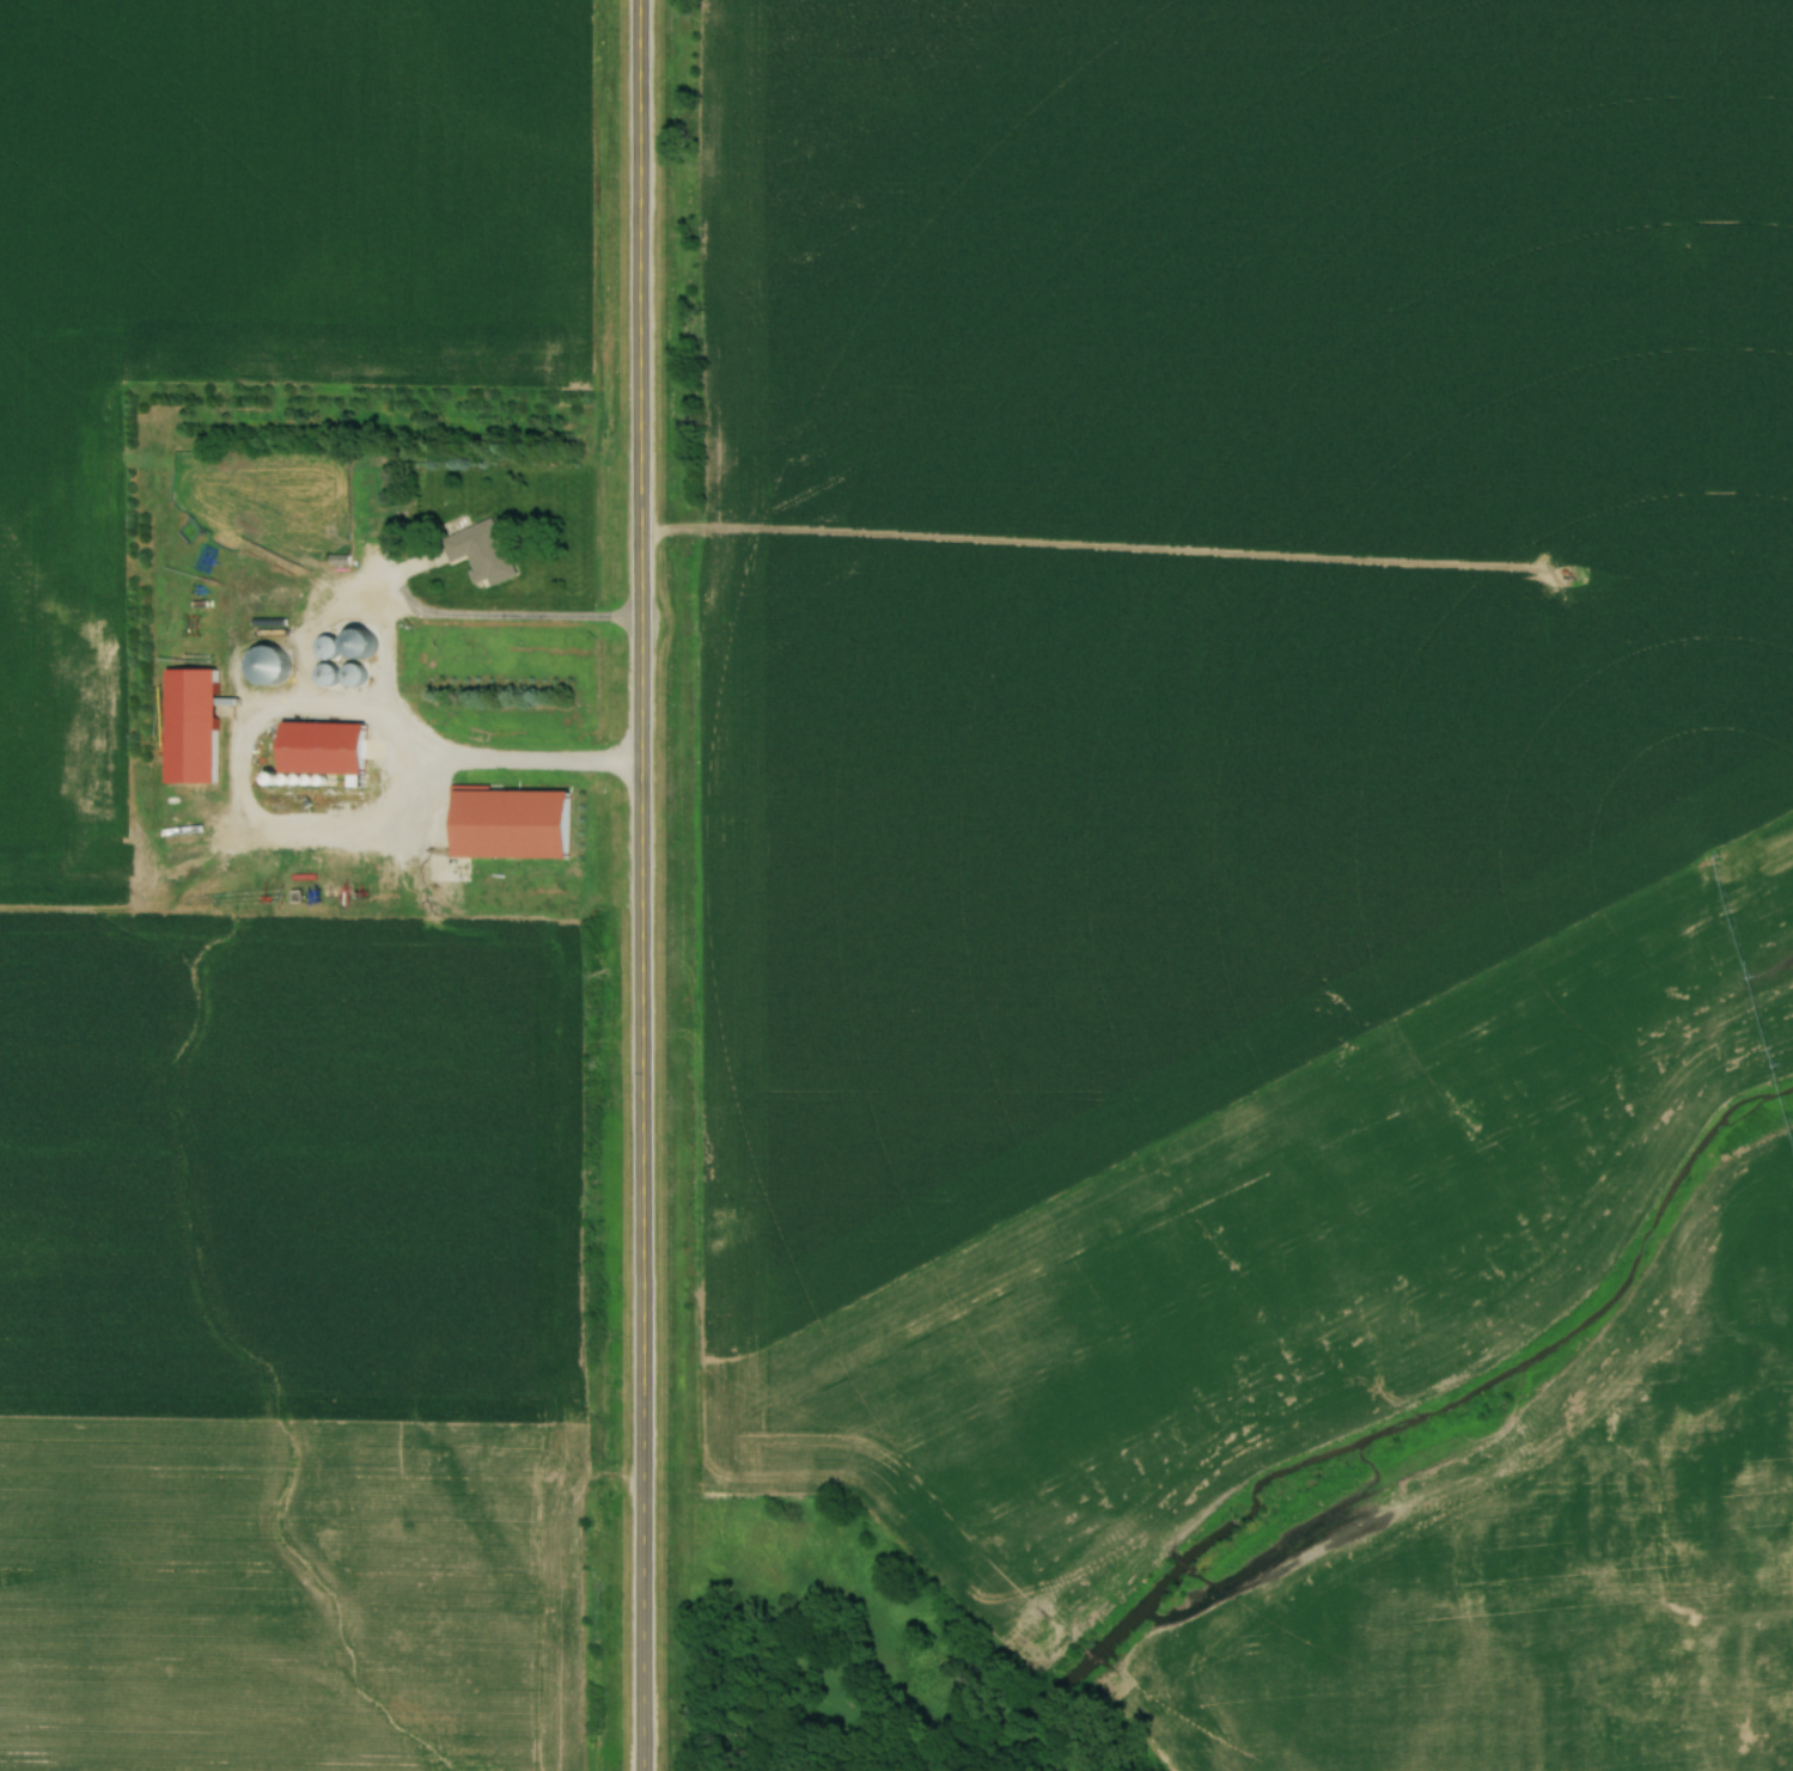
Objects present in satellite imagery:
building: (478, 551)
building: (361, 641)
building: (328, 643)
building: (268, 662)
building: (353, 671)
building: (328, 672)
road: (279, 712)
building: (315, 747)
road: (645, 885)
building: (1756, 1578)
building: (1761, 1663)
building: (1660, 1757)
road: (1719, 1757)

